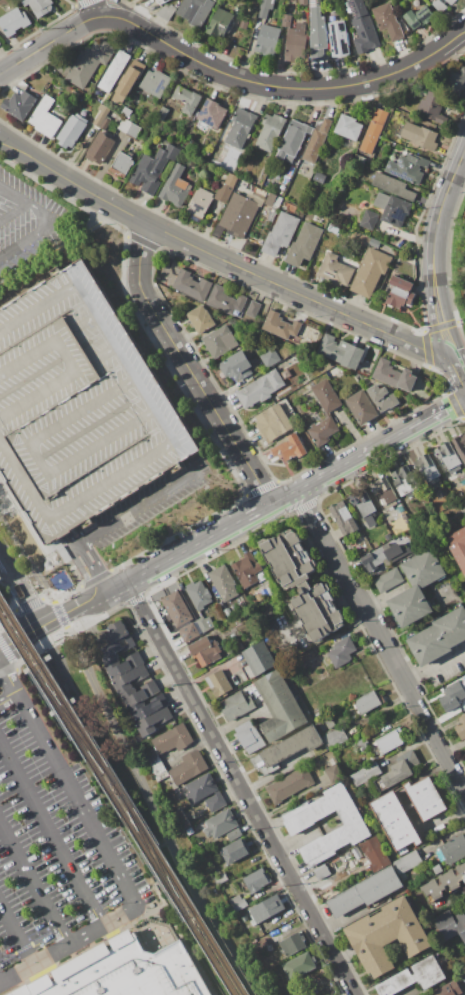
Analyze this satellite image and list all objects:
building: (161, 1)
building: (416, 3)
building: (442, 4)
building: (39, 6)
road: (98, 8)
building: (265, 8)
building: (195, 11)
building: (165, 12)
building: (418, 18)
building: (285, 20)
building: (387, 21)
building: (14, 22)
building: (220, 23)
building: (243, 25)
building: (362, 27)
road: (464, 31)
road: (464, 32)
building: (317, 33)
building: (338, 39)
building: (268, 40)
building: (295, 43)
building: (90, 63)
road: (225, 71)
building: (114, 72)
building: (128, 82)
building: (155, 83)
building: (455, 84)
building: (187, 100)
building: (19, 105)
building: (433, 107)
building: (126, 112)
building: (162, 114)
building: (212, 114)
building: (101, 116)
building: (45, 118)
building: (104, 125)
building: (124, 125)
building: (240, 127)
building: (349, 128)
building: (133, 130)
building: (399, 130)
building: (71, 131)
building: (374, 131)
building: (270, 132)
building: (420, 136)
building: (293, 142)
building: (314, 147)
building: (99, 148)
building: (206, 155)
building: (121, 165)
building: (407, 166)
building: (153, 168)
road: (461, 173)
building: (319, 178)
road: (1, 187)
building: (175, 187)
building: (393, 187)
road: (1, 188)
building: (226, 188)
building: (279, 189)
road: (15, 196)
building: (270, 200)
building: (200, 205)
building: (393, 209)
road: (14, 213)
building: (237, 216)
building: (369, 219)
parking lot: (29, 221)
building: (333, 229)
road: (41, 231)
building: (280, 234)
building: (361, 239)
building: (374, 243)
building: (304, 244)
road: (59, 249)
road: (436, 249)
road: (222, 259)
building: (335, 271)
building: (371, 272)
building: (191, 285)
building: (401, 293)
building: (226, 302)
building: (254, 309)
building: (200, 319)
building: (281, 326)
building: (220, 342)
building: (341, 352)
road: (454, 353)
building: (269, 358)
traffic signals: (456, 360)
building: (236, 366)
road: (460, 369)
road: (191, 370)
building: (332, 371)
building: (394, 376)
building: (261, 388)
building: (327, 396)
building: (423, 397)
building: (383, 398)
building: (80, 404)
parking lot: (80, 404)
building: (361, 408)
road: (440, 415)
building: (272, 424)
building: (323, 431)
building: (460, 445)
building: (288, 449)
building: (448, 457)
road: (361, 458)
building: (426, 469)
building: (404, 482)
building: (384, 493)
road: (292, 497)
parking lot: (152, 501)
road: (144, 506)
road: (54, 507)
building: (364, 507)
building: (344, 518)
road: (30, 527)
building: (458, 547)
building: (389, 549)
road: (191, 551)
building: (248, 570)
building: (388, 580)
building: (223, 582)
road: (23, 586)
building: (303, 586)
building: (416, 588)
building: (270, 590)
building: (199, 595)
building: (176, 607)
road: (76, 612)
building: (240, 614)
building: (205, 623)
building: (189, 633)
building: (111, 634)
building: (439, 636)
road: (381, 641)
road: (22, 642)
building: (117, 646)
building: (206, 649)
building: (342, 652)
building: (257, 660)
building: (121, 664)
road: (435, 667)
building: (129, 678)
building: (219, 684)
road: (7, 686)
building: (138, 696)
building: (450, 697)
building: (368, 702)
road: (7, 703)
building: (236, 705)
building: (278, 707)
building: (152, 715)
building: (464, 715)
building: (329, 722)
railway: (77, 728)
building: (460, 730)
building: (250, 737)
building: (335, 738)
building: (172, 739)
building: (390, 741)
building: (361, 744)
building: (286, 749)
road: (130, 754)
building: (331, 761)
road: (112, 765)
building: (157, 767)
building: (189, 767)
building: (398, 770)
building: (334, 773)
building: (365, 774)
building: (290, 785)
road: (243, 790)
building: (206, 793)
railway: (123, 795)
building: (425, 798)
railway: (118, 803)
building: (181, 820)
building: (221, 823)
building: (396, 823)
building: (301, 824)
park: (154, 826)
building: (190, 830)
road: (50, 833)
building: (235, 835)
parking lot: (51, 837)
building: (453, 849)
building: (234, 851)
railway: (155, 854)
building: (375, 854)
building: (407, 861)
road: (113, 868)
building: (437, 869)
building: (322, 871)
building: (403, 877)
building: (220, 878)
building: (254, 882)
building: (444, 882)
road: (33, 883)
building: (366, 892)
road: (166, 895)
building: (238, 903)
building: (265, 909)
building: (447, 926)
road: (15, 936)
building: (388, 936)
building: (260, 944)
building: (293, 944)
building: (273, 947)
building: (299, 966)
building: (124, 972)
building: (413, 977)
building: (452, 988)

